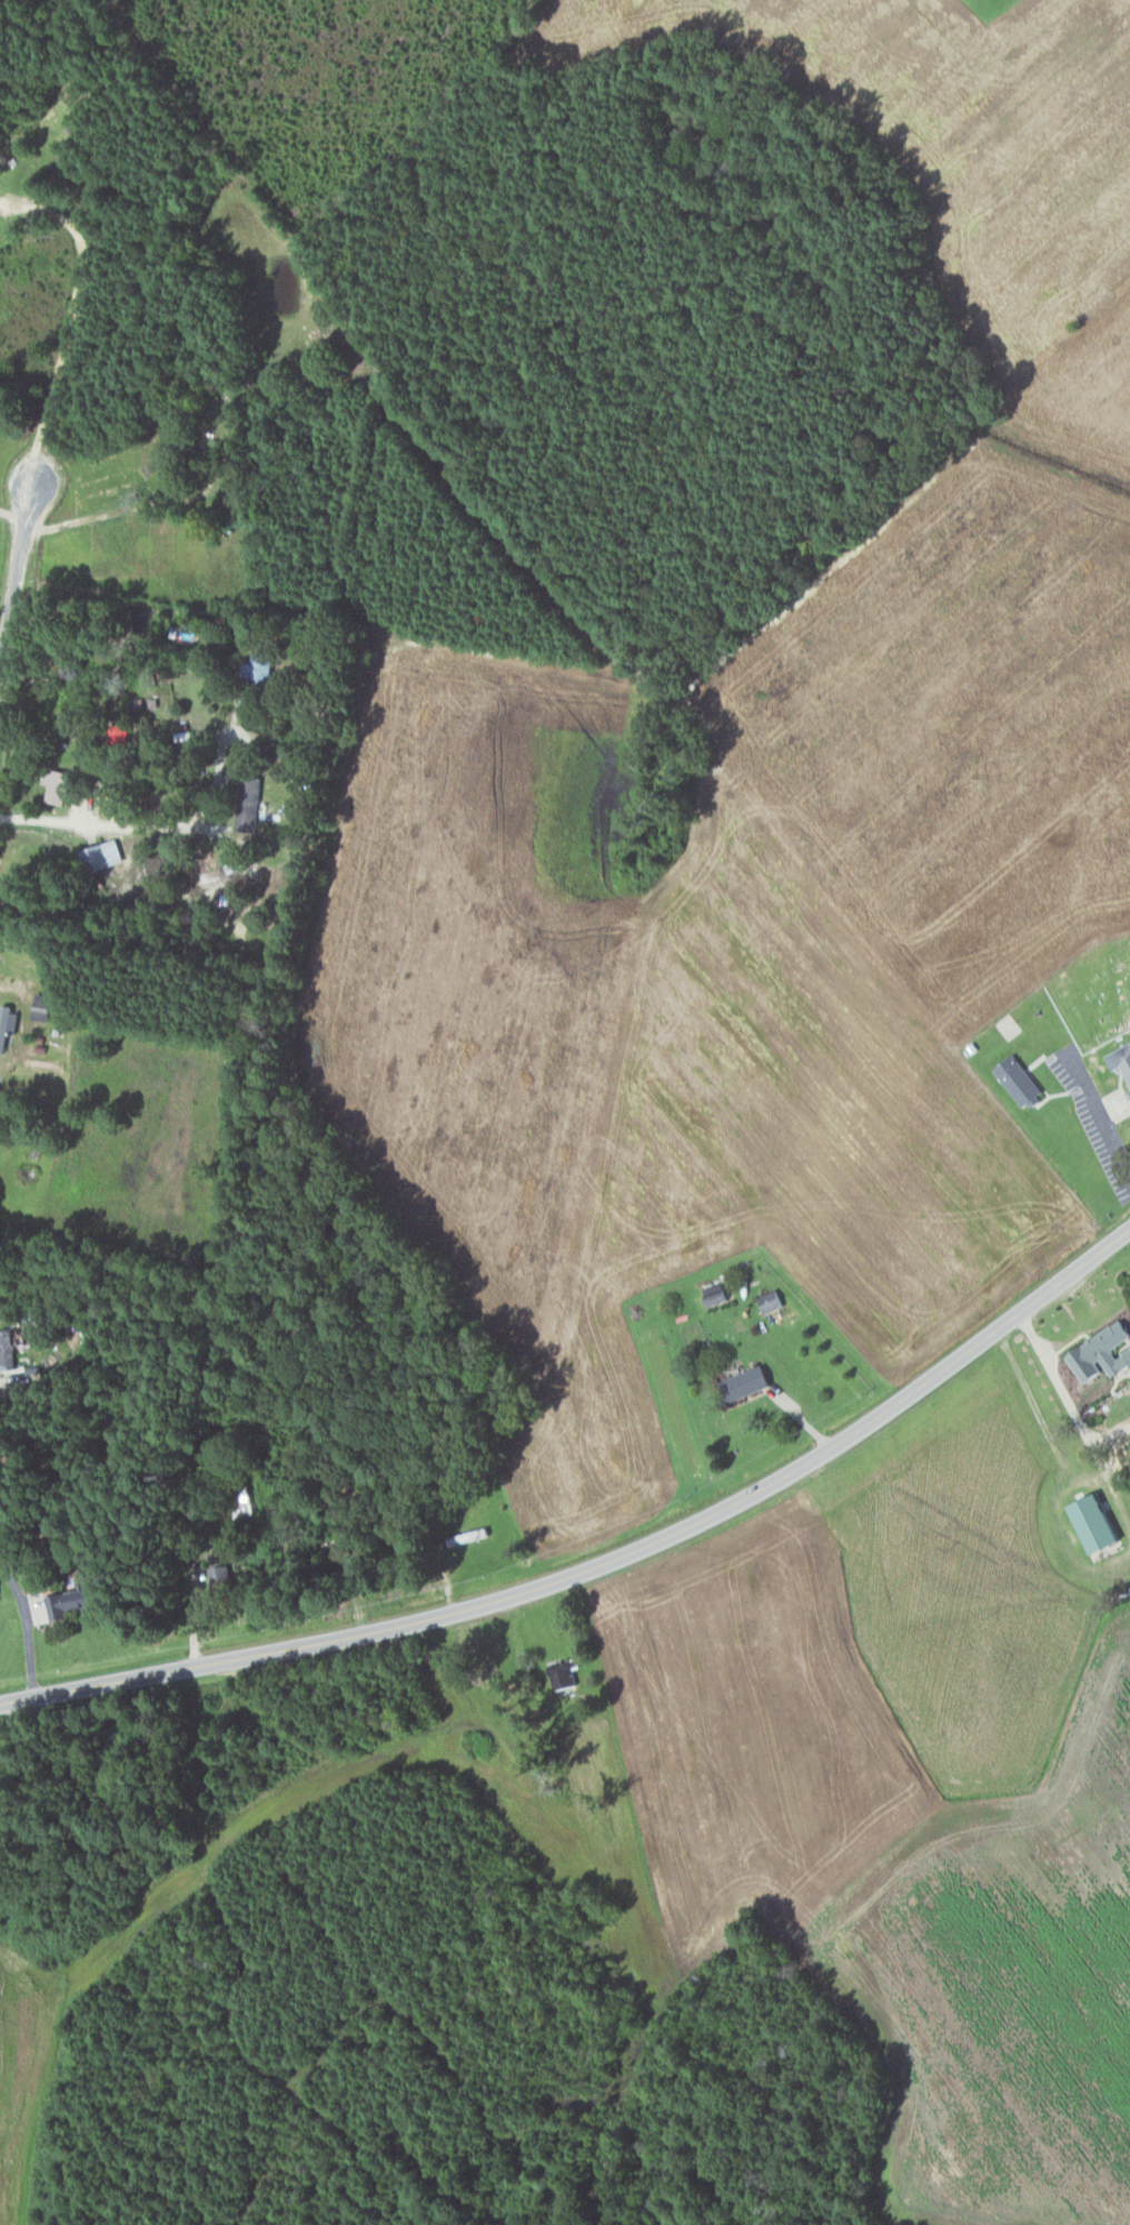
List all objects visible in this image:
road: (11, 429)
road: (23, 553)
building: (255, 669)
building: (61, 785)
building: (245, 803)
road: (92, 823)
building: (106, 855)
building: (9, 1024)
building: (1124, 1069)
building: (1013, 1079)
building: (712, 1297)
building: (766, 1300)
building: (13, 1345)
building: (1097, 1353)
building: (744, 1382)
building: (241, 1504)
building: (1087, 1522)
road: (605, 1559)
building: (218, 1575)
building: (0, 1591)
building: (80, 1601)
building: (558, 1676)

